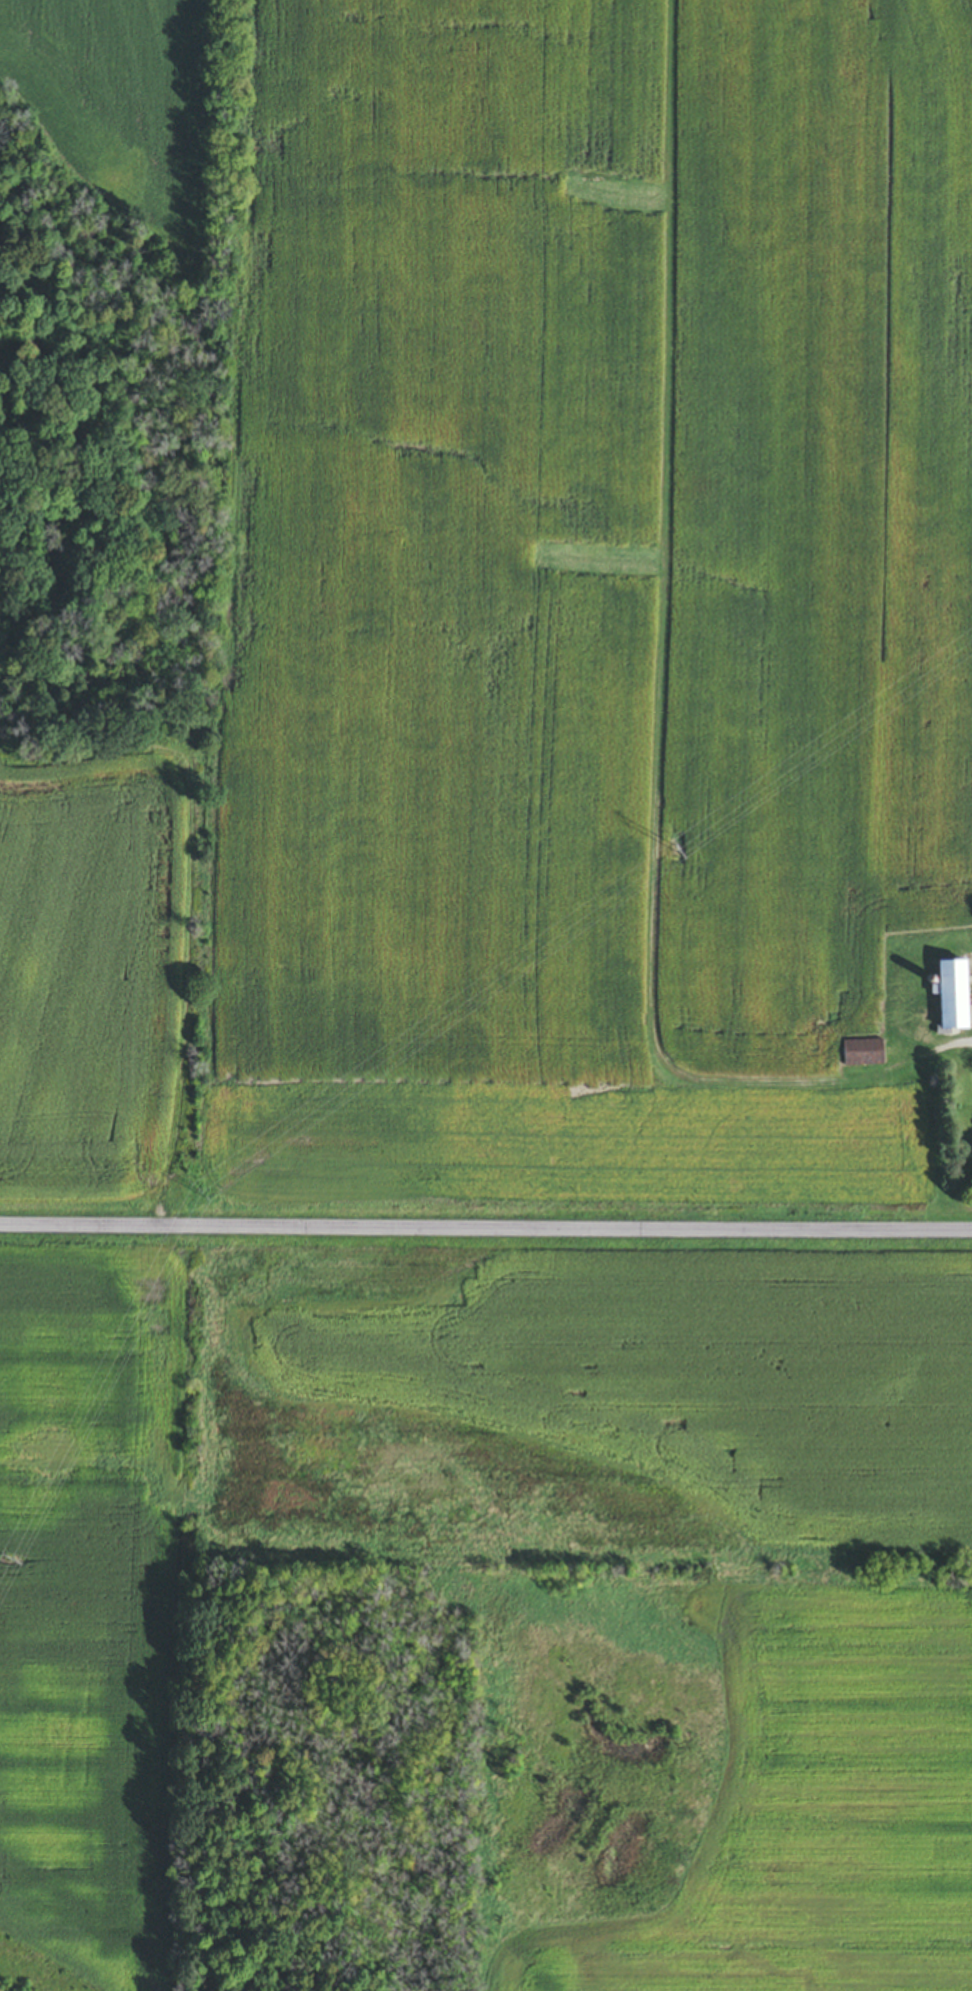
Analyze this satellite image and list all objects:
power tower: (680, 850)
building: (952, 996)
building: (863, 1055)
power tower: (200, 1190)
road: (485, 1228)
power tower: (4, 1569)

